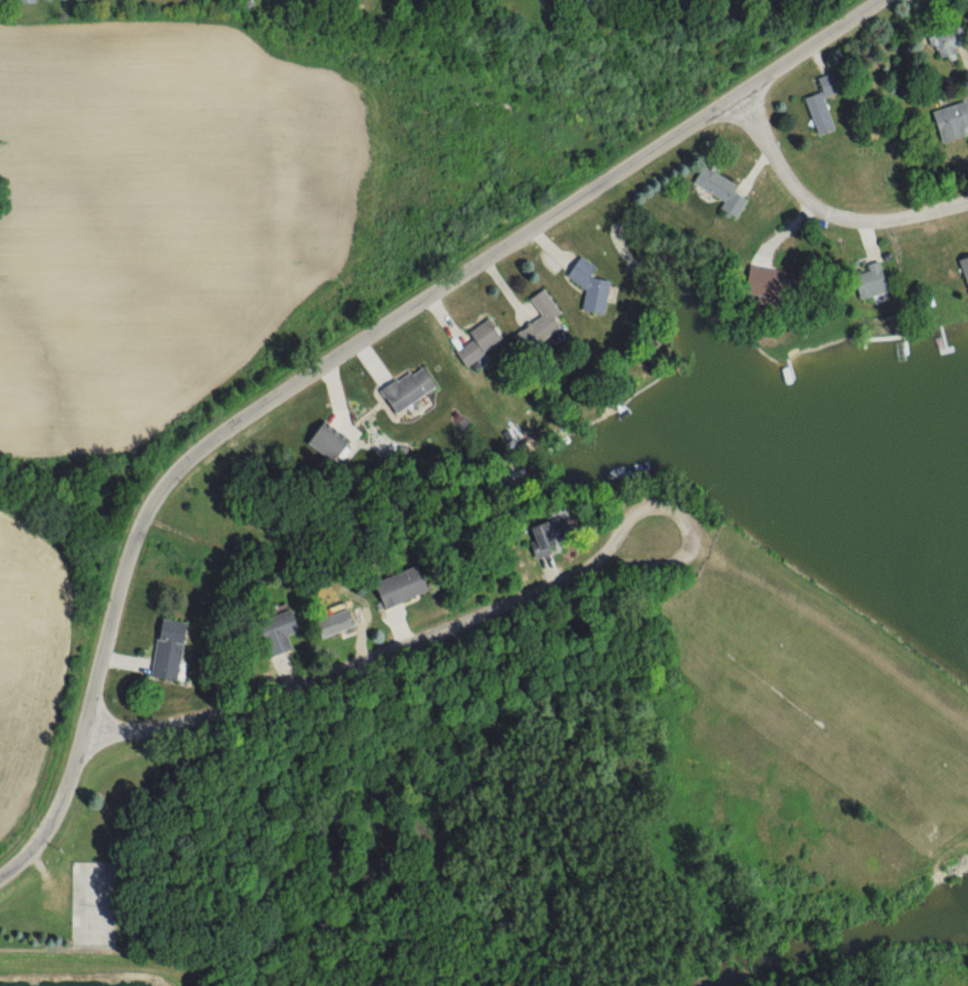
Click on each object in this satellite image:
building: (20, 2)
building: (942, 40)
building: (815, 105)
building: (948, 120)
building: (716, 192)
road: (824, 212)
building: (962, 270)
building: (867, 282)
building: (757, 283)
building: (584, 287)
building: (531, 323)
building: (474, 344)
road: (338, 355)
building: (402, 388)
building: (321, 442)
building: (528, 533)
building: (391, 587)
building: (325, 623)
road: (819, 625)
building: (268, 632)
building: (161, 650)
road: (376, 653)
river: (928, 916)
river: (928, 928)
river: (796, 952)

